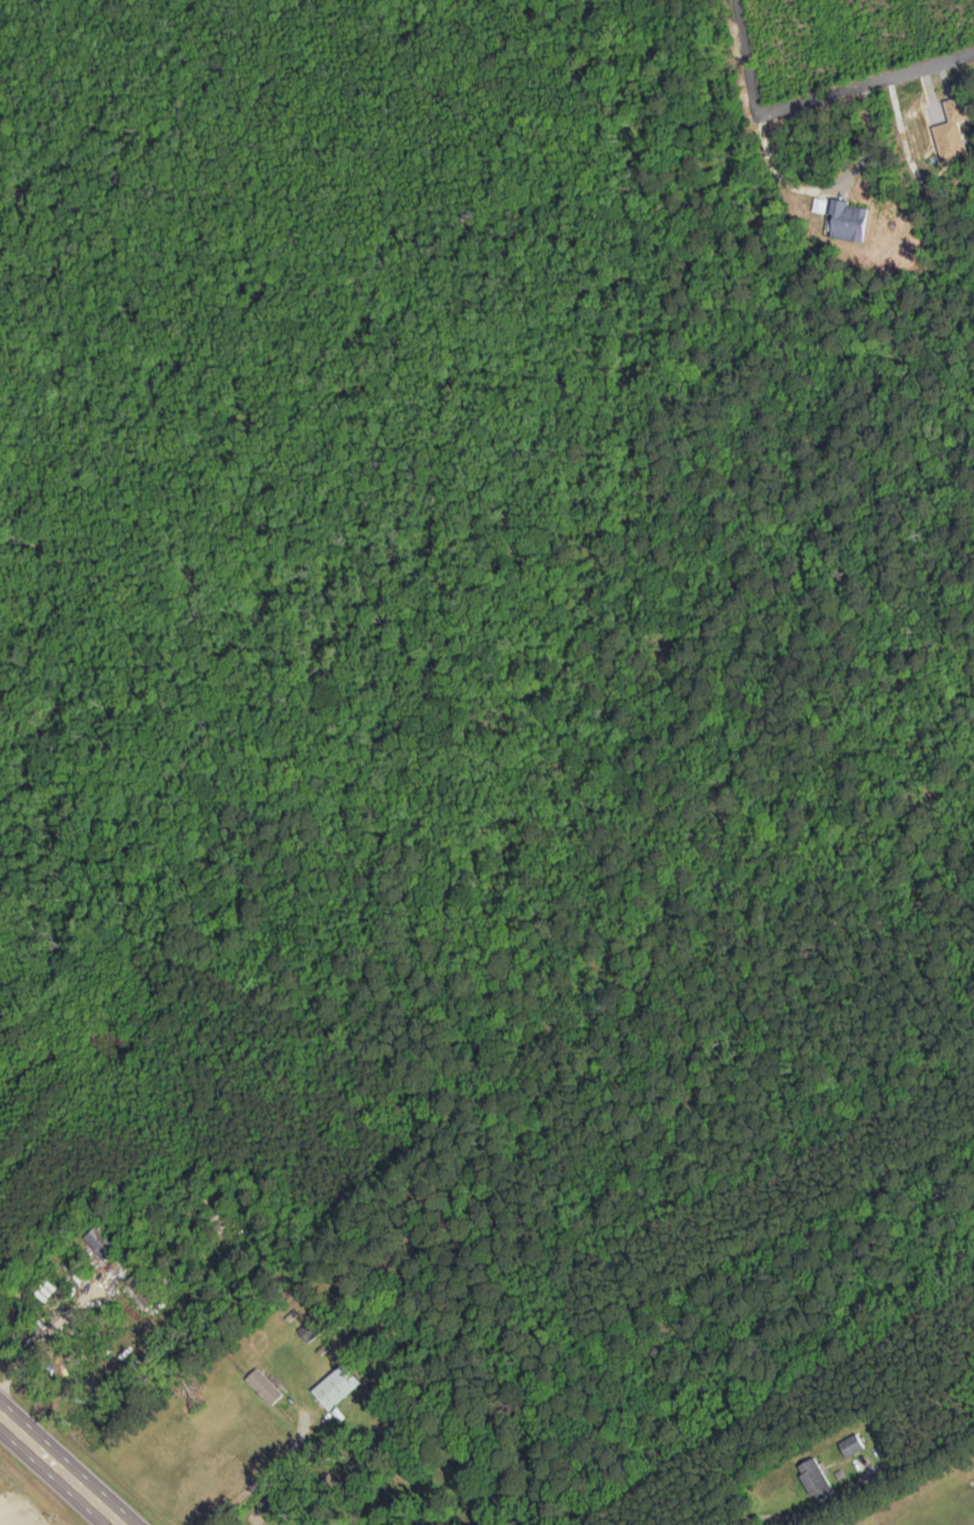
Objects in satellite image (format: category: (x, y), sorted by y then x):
building: (852, 220)
building: (104, 1243)
building: (146, 1288)
building: (313, 1330)
building: (267, 1387)
building: (341, 1387)
building: (854, 1445)
road: (62, 1468)
building: (819, 1480)

